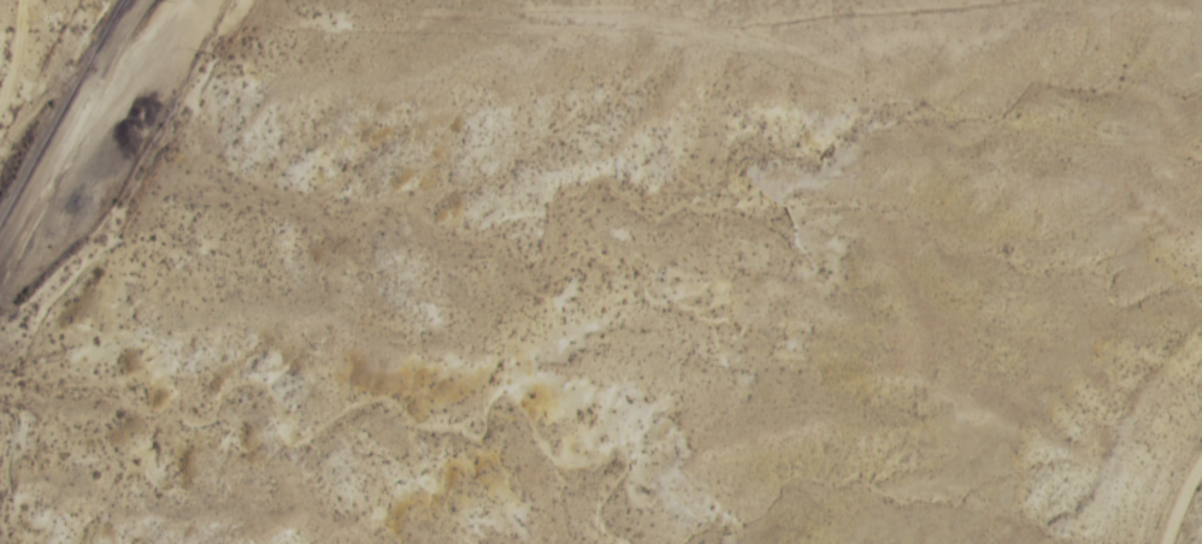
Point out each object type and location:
road: (13, 32)
road: (708, 32)
railway: (106, 35)
railway: (60, 112)
road: (1183, 504)

